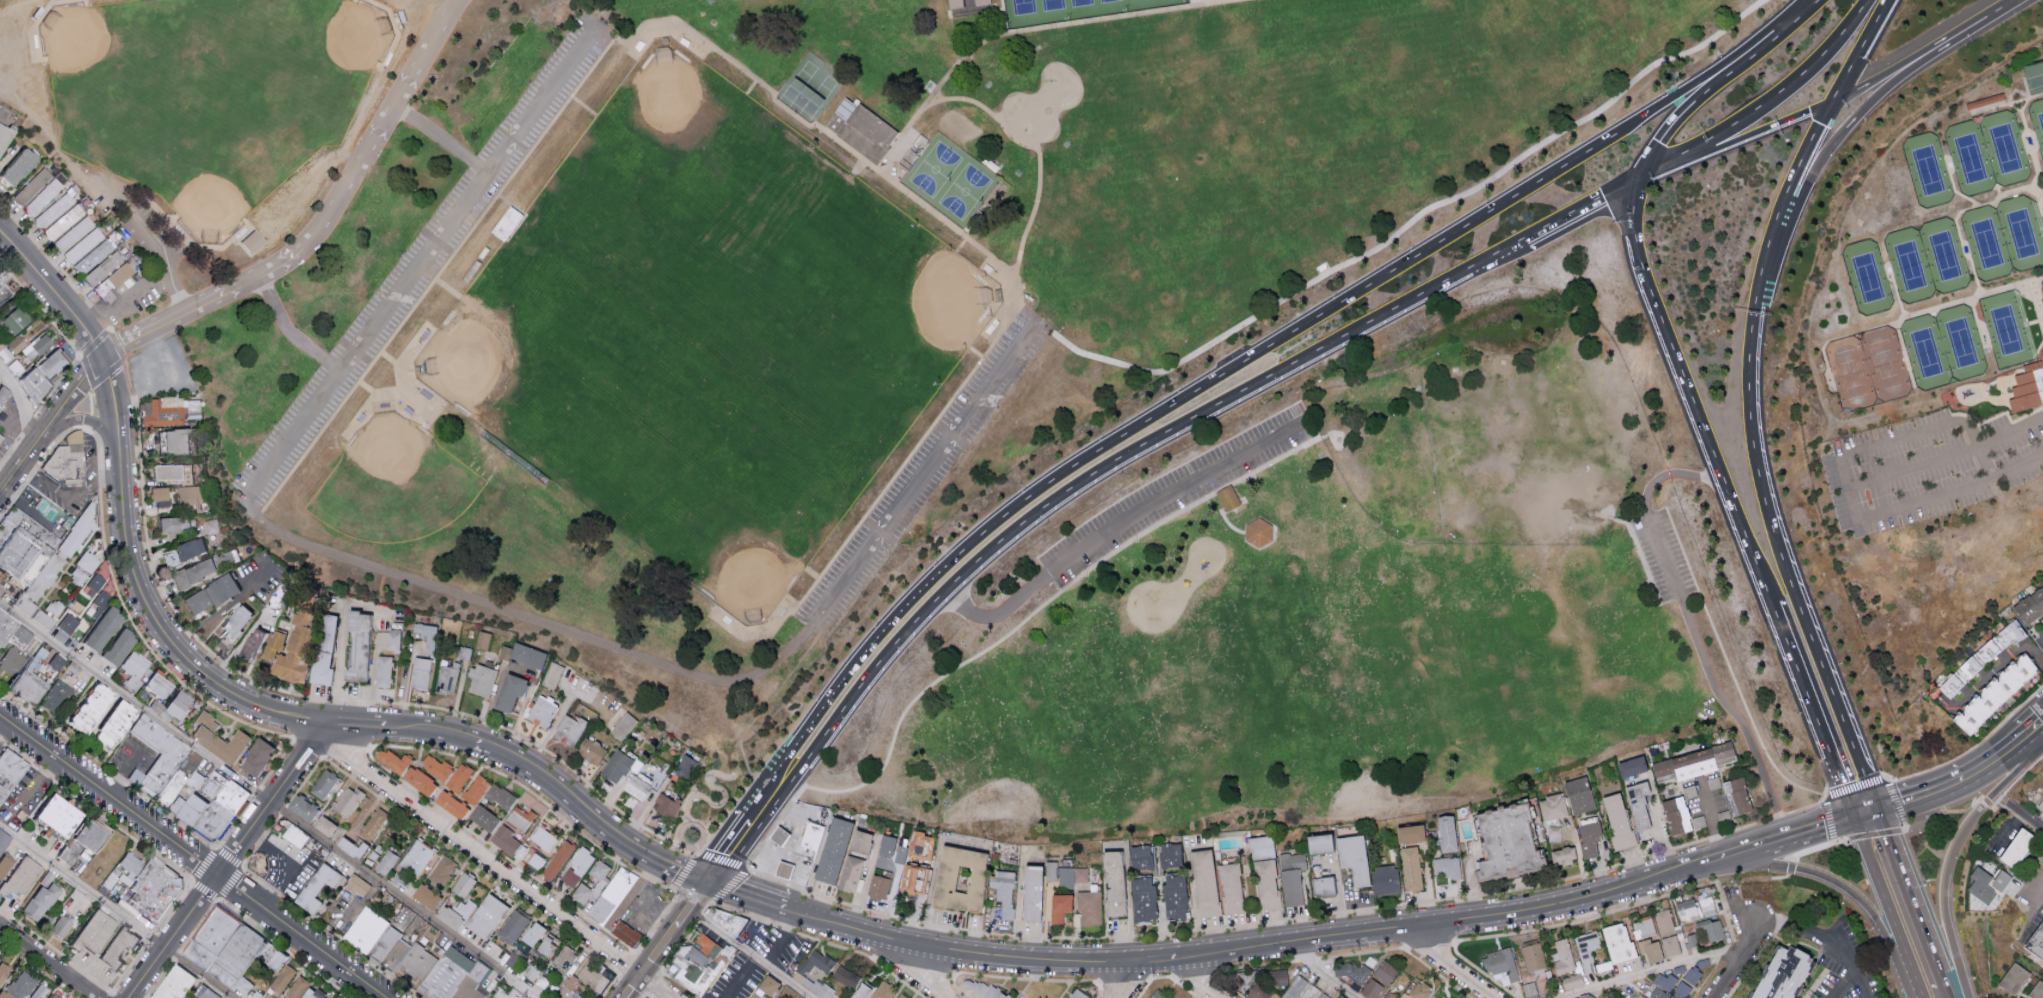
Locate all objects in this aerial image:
road: (1206, 2)
building: (983, 3)
building: (956, 5)
park: (1072, 10)
road: (1003, 16)
road: (1987, 19)
road: (1028, 29)
road: (1862, 50)
road: (1713, 65)
road: (1896, 69)
building: (2034, 75)
road: (1718, 82)
road: (750, 88)
park: (810, 88)
park: (209, 94)
road: (1776, 94)
traffic signals: (1837, 100)
building: (1985, 102)
road: (582, 106)
park: (2037, 121)
road: (2, 123)
building: (862, 129)
building: (2, 134)
road: (1841, 134)
road: (1752, 136)
road: (444, 138)
road: (2033, 140)
road: (2025, 143)
park: (2004, 148)
road: (1037, 150)
park: (1970, 158)
building: (12, 166)
road: (856, 167)
park: (1928, 170)
road: (1652, 171)
traffic signals: (1639, 177)
road: (1796, 179)
park: (952, 180)
road: (1954, 188)
building: (37, 191)
road: (340, 196)
road: (2040, 202)
road: (1584, 205)
building: (54, 210)
road: (945, 222)
building: (507, 224)
building: (67, 231)
road: (148, 231)
park: (2022, 232)
road: (1963, 242)
park: (1987, 244)
road: (960, 246)
park: (1944, 255)
building: (95, 256)
parking lot: (420, 264)
road: (422, 265)
park: (763, 265)
park: (1909, 266)
road: (34, 270)
park: (1868, 278)
building: (116, 282)
building: (2042, 284)
road: (2012, 286)
road: (448, 288)
road: (1895, 290)
building: (2041, 291)
road: (141, 294)
road: (2037, 301)
road: (1936, 308)
road: (99, 314)
building: (13, 315)
road: (95, 317)
road: (88, 324)
road: (83, 325)
park: (2008, 329)
road: (82, 331)
road: (135, 331)
road: (291, 332)
park: (706, 333)
road: (70, 334)
road: (1844, 336)
road: (64, 337)
road: (134, 339)
road: (139, 340)
park: (1961, 342)
building: (37, 345)
road: (137, 345)
street lamp: (77, 347)
road: (142, 349)
park: (1926, 352)
road: (88, 354)
road: (1904, 354)
building: (2042, 358)
building: (48, 363)
park: (1885, 363)
building: (57, 366)
street lamp: (122, 372)
road: (72, 374)
park: (1850, 374)
building: (22, 377)
road: (80, 378)
road: (81, 382)
road: (86, 383)
building: (39, 385)
road: (161, 386)
building: (2028, 389)
road: (106, 390)
road: (114, 390)
road: (126, 390)
road: (91, 392)
road: (110, 392)
road: (98, 394)
street lamp: (132, 394)
road: (1688, 394)
road: (131, 399)
road: (22, 402)
road: (95, 405)
building: (171, 415)
road: (1149, 417)
road: (86, 422)
road: (90, 422)
road: (87, 430)
road: (87, 431)
street lamp: (93, 432)
road: (119, 435)
building: (1, 441)
building: (173, 441)
road: (1976, 443)
road: (35, 446)
road: (1946, 457)
building: (68, 462)
road: (1106, 464)
road: (95, 470)
building: (171, 471)
parking lot: (923, 473)
road: (921, 475)
road: (109, 483)
park: (395, 484)
parking lot: (1177, 491)
building: (160, 497)
building: (1228, 499)
street lamp: (9, 506)
road: (1186, 507)
road: (1858, 517)
building: (68, 524)
building: (171, 524)
building: (210, 525)
road: (1119, 526)
building: (1258, 534)
road: (1776, 542)
building: (23, 546)
building: (184, 551)
parking lot: (1663, 556)
building: (86, 562)
building: (192, 572)
building: (75, 577)
building: (91, 585)
building: (209, 594)
park: (1356, 601)
building: (2029, 605)
road: (225, 606)
road: (149, 610)
road: (525, 616)
building: (232, 620)
building: (66, 624)
building: (6, 625)
road: (1688, 629)
building: (102, 632)
building: (425, 634)
building: (19, 636)
building: (391, 638)
building: (250, 639)
road: (1717, 641)
road: (2039, 641)
building: (357, 643)
building: (286, 645)
building: (321, 648)
building: (118, 650)
building: (463, 651)
building: (522, 653)
building: (1980, 657)
building: (10, 660)
building: (55, 661)
road: (1999, 664)
building: (71, 667)
building: (133, 669)
building: (383, 670)
building: (419, 671)
building: (446, 676)
building: (481, 678)
road: (928, 683)
building: (158, 685)
building: (28, 687)
building: (508, 690)
building: (1990, 693)
building: (57, 698)
road: (339, 699)
building: (178, 704)
building: (89, 708)
building: (541, 709)
road: (1811, 710)
road: (298, 717)
building: (113, 724)
road: (358, 725)
building: (622, 725)
road: (4, 727)
building: (568, 729)
road: (736, 730)
building: (216, 737)
road: (462, 738)
road: (1971, 745)
building: (590, 750)
building: (158, 752)
building: (254, 755)
building: (391, 759)
building: (1692, 761)
building: (1629, 764)
building: (616, 765)
building: (684, 765)
building: (435, 766)
building: (9, 773)
building: (457, 776)
road: (1965, 776)
road: (2018, 776)
building: (417, 779)
building: (323, 783)
road: (1887, 784)
building: (636, 785)
building: (474, 788)
building: (174, 789)
building: (1732, 792)
building: (1578, 794)
road: (108, 795)
building: (499, 795)
road: (272, 798)
building: (202, 799)
road: (270, 799)
building: (346, 801)
building: (449, 802)
road: (1985, 802)
building: (1636, 803)
building: (2040, 803)
building: (664, 804)
building: (300, 805)
building: (1552, 806)
traffic signals: (1875, 808)
road: (1863, 811)
road: (1942, 811)
road: (759, 813)
road: (2026, 813)
building: (227, 814)
building: (1675, 814)
traffic signals: (1851, 815)
road: (2016, 815)
building: (482, 816)
building: (1616, 819)
building: (1699, 820)
road: (1710, 820)
building: (60, 821)
building: (371, 822)
building: (322, 824)
road: (1810, 826)
building: (512, 830)
building: (1408, 831)
building: (1446, 832)
road: (614, 834)
building: (777, 834)
building: (541, 837)
building: (1587, 837)
building: (295, 839)
building: (2, 840)
building: (1504, 840)
building: (94, 841)
building: (859, 841)
building: (1317, 841)
building: (811, 844)
building: (886, 844)
road: (1757, 844)
building: (350, 845)
building: (1260, 846)
building: (2015, 846)
building: (831, 848)
building: (107, 849)
road: (1812, 850)
road: (729, 852)
building: (1170, 854)
building: (1561, 854)
road: (1950, 854)
building: (1352, 856)
building: (1142, 857)
road: (1709, 857)
building: (557, 859)
building: (412, 860)
building: (384, 861)
building: (259, 862)
building: (2, 863)
road: (745, 864)
road: (295, 865)
road: (494, 865)
building: (577, 866)
building: (1446, 866)
building: (135, 867)
building: (1411, 867)
building: (781, 868)
road: (1789, 868)
building: (440, 870)
building: (1050, 870)
building: (908, 872)
building: (850, 873)
building: (17, 875)
building: (1071, 875)
building: (1290, 876)
building: (943, 877)
building: (1384, 879)
building: (2000, 879)
traffic signals: (710, 880)
building: (1203, 882)
building: (1265, 883)
building: (1980, 883)
building: (356, 884)
building: (462, 884)
building: (1115, 884)
building: (1321, 884)
building: (315, 886)
building: (878, 886)
road: (1844, 886)
building: (1230, 887)
road: (737, 889)
building: (1002, 889)
road: (2037, 890)
building: (582, 892)
building: (424, 894)
building: (1033, 894)
building: (1173, 895)
building: (38, 896)
road: (1909, 896)
building: (1142, 897)
building: (613, 898)
road: (694, 904)
building: (465, 905)
building: (1058, 905)
road: (1624, 905)
building: (1695, 906)
road: (1887, 906)
building: (1089, 907)
building: (151, 910)
road: (642, 910)
road: (116, 912)
building: (485, 915)
building: (447, 916)
road: (1439, 919)
building: (727, 921)
building: (1664, 921)
road: (753, 924)
building: (512, 925)
road: (1239, 925)
building: (58, 926)
building: (1643, 926)
building: (90, 928)
building: (1713, 929)
building: (368, 931)
building: (531, 932)
road: (171, 936)
road: (301, 936)
building: (628, 937)
road: (779, 937)
road: (1826, 937)
building: (1617, 941)
building: (2035, 942)
building: (215, 943)
building: (385, 944)
building: (706, 944)
building: (1668, 944)
building: (114, 945)
building: (543, 945)
building: (520, 946)
road: (945, 946)
building: (1587, 948)
building: (1649, 948)
road: (748, 955)
road: (1166, 955)
building: (1532, 955)
building: (396, 956)
building: (1563, 956)
building: (417, 959)
building: (240, 960)
road: (1735, 960)
road: (50, 961)
building: (276, 961)
building: (1500, 962)
road: (653, 963)
road: (1453, 963)
building: (565, 964)
building: (1603, 965)
building: (803, 967)
road: (1648, 969)
building: (529, 970)
building: (1384, 970)
building: (695, 971)
road: (1321, 972)
building: (1350, 972)
road: (930, 973)
building: (1779, 973)
building: (1691, 974)
building: (843, 975)
building: (446, 976)
building: (1278, 976)
building: (281, 977)
road: (1194, 977)
building: (2012, 977)
parking lot: (737, 978)
road: (740, 978)
road: (1127, 980)
building: (1571, 980)
building: (1664, 980)
building: (470, 981)
building: (171, 982)
building: (592, 982)
building: (19, 984)
road: (1846, 985)
building: (296, 986)
building: (764, 986)
building: (1294, 987)
building: (980, 988)
building: (1370, 988)
building: (1528, 988)
building: (1681, 989)
building: (2036, 989)
building: (858, 990)
building: (882, 990)
building: (1417, 990)
building: (39, 991)
building: (248, 991)
building: (203, 992)
building: (502, 992)
building: (1258, 992)
road: (1944, 992)
building: (1076, 993)
building: (1658, 993)
building: (310, 994)
building: (1608, 994)
building: (1159, 995)
building: (1389, 995)
building: (55, 996)
building: (900, 996)
building: (1444, 996)
building: (1584, 996)
building: (1641, 996)
building: (263, 997)
building: (334, 997)
building: (1337, 997)

